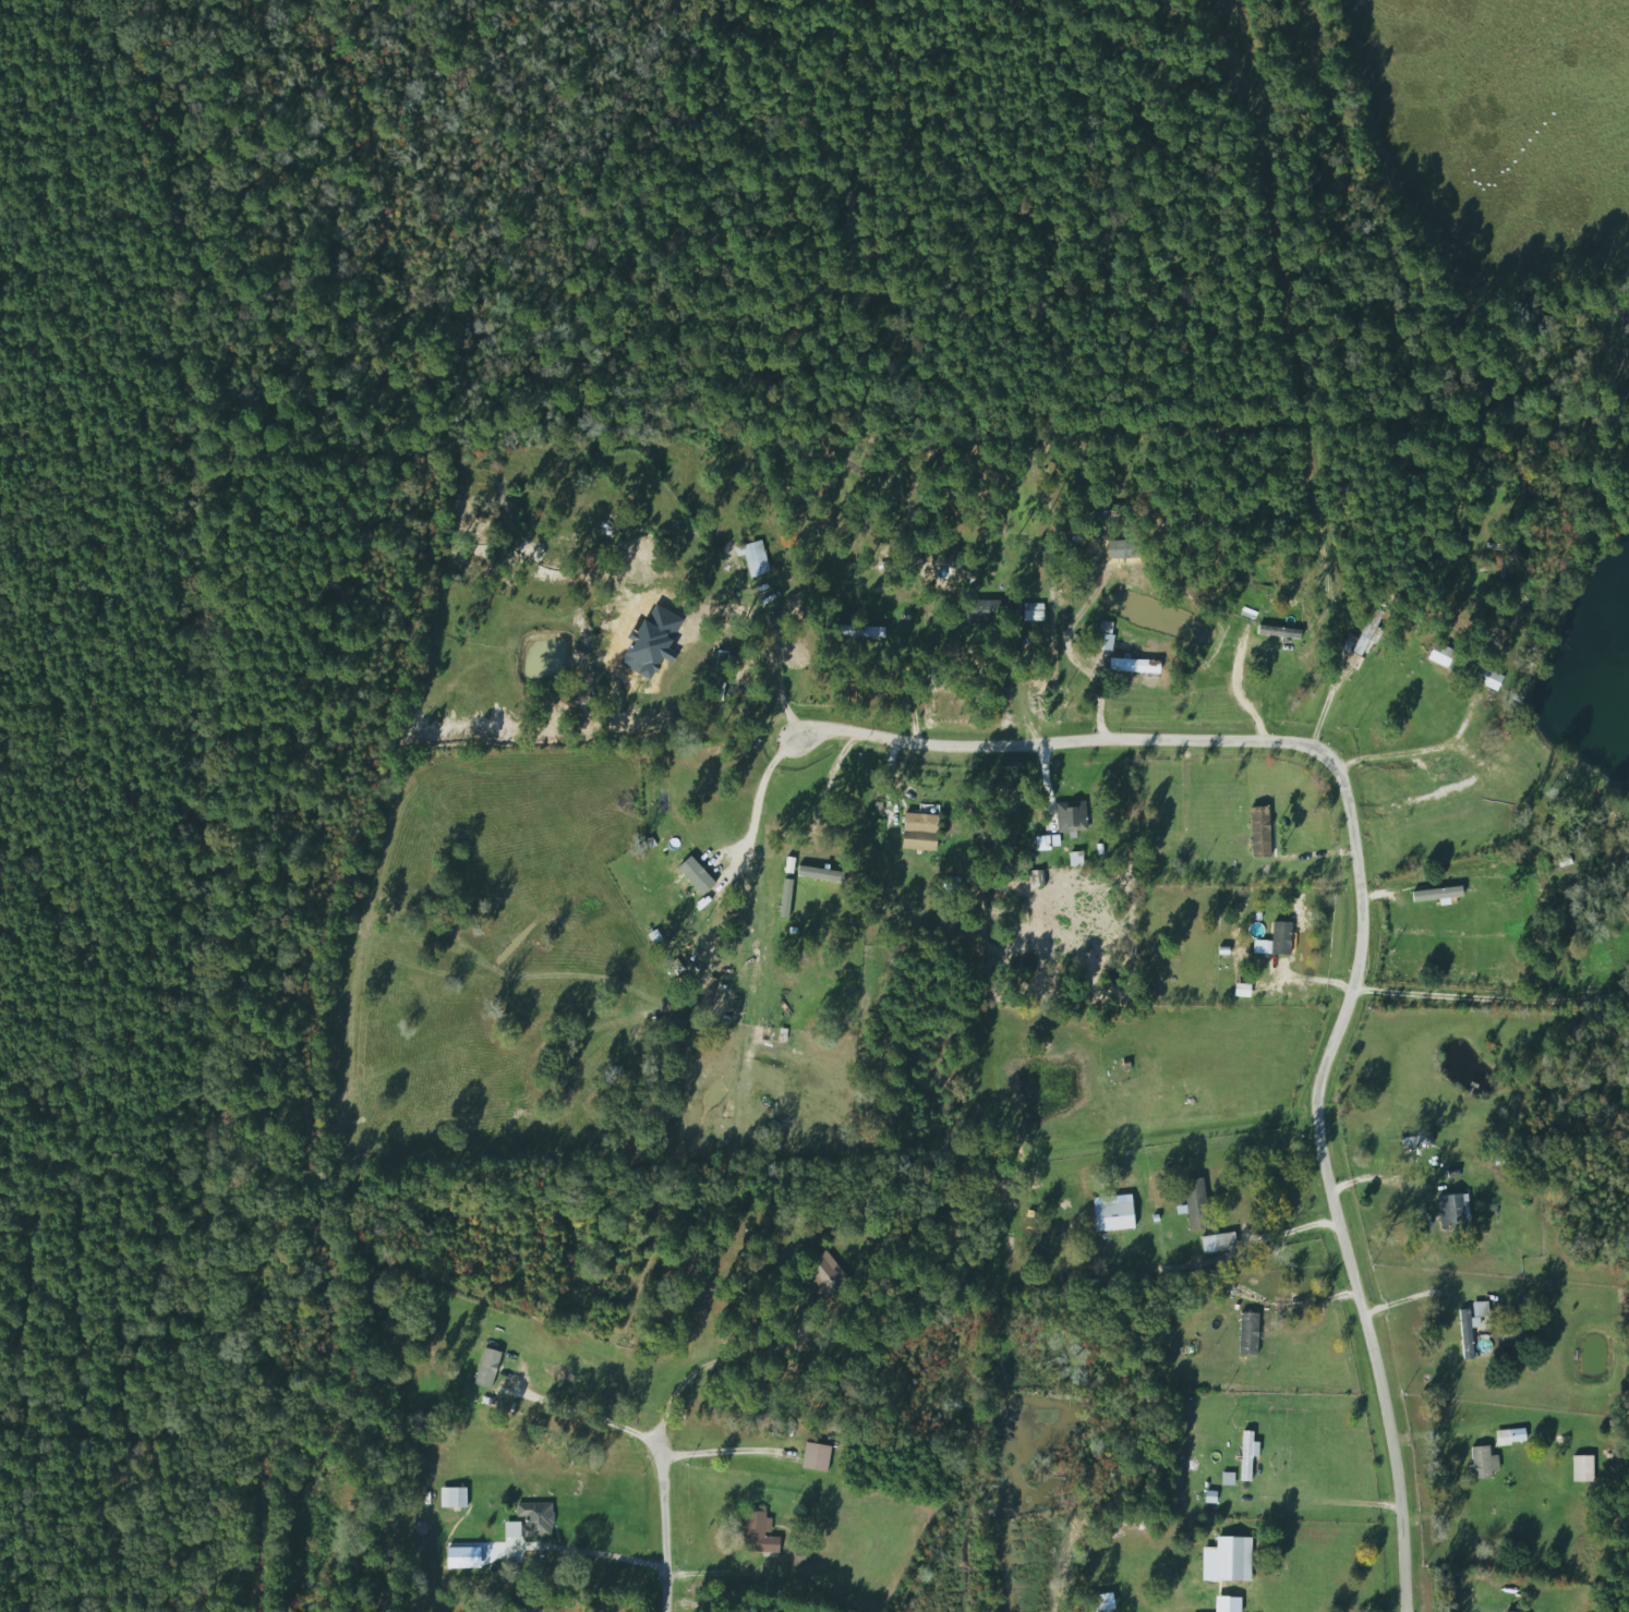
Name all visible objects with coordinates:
building: (752, 558)
building: (992, 610)
building: (1031, 611)
building: (857, 631)
building: (1367, 633)
building: (1102, 637)
building: (1457, 663)
building: (1124, 665)
building: (715, 684)
road: (913, 690)
road: (919, 737)
road: (1300, 738)
road: (1419, 752)
road: (769, 783)
road: (834, 783)
building: (1069, 816)
building: (919, 824)
building: (1257, 832)
building: (1073, 857)
building: (679, 876)
building: (1279, 938)
road: (1494, 997)
building: (1194, 1204)
building: (1451, 1212)
road: (1293, 1229)
building: (1216, 1243)
building: (824, 1278)
road: (1367, 1288)
road: (1416, 1297)
building: (1479, 1310)
building: (1246, 1334)
building: (1465, 1334)
building: (1508, 1335)
road: (716, 1363)
building: (483, 1366)
road: (581, 1413)
building: (1501, 1438)
road: (726, 1451)
building: (1246, 1454)
building: (1481, 1463)
building: (1581, 1469)
building: (451, 1498)
road: (1332, 1500)
building: (529, 1522)
road: (664, 1526)
building: (756, 1532)
road: (614, 1555)
road: (719, 1572)
building: (1255, 1588)
building: (1190, 1610)

